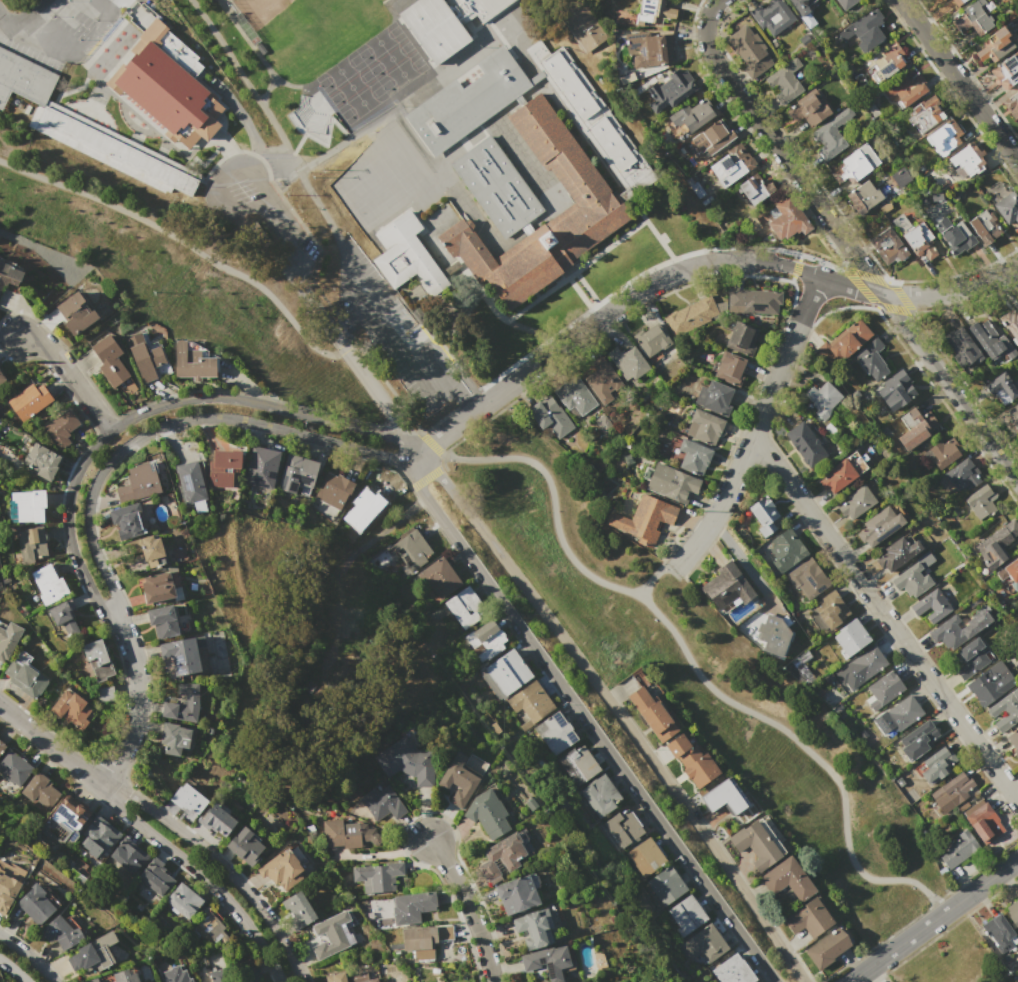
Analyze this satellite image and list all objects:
building: (846, 4)
building: (949, 4)
road: (713, 6)
building: (801, 6)
building: (654, 12)
road: (23, 13)
building: (772, 16)
building: (973, 18)
park: (325, 23)
building: (445, 24)
road: (93, 30)
building: (865, 31)
road: (28, 38)
park: (308, 38)
building: (995, 46)
building: (651, 49)
building: (748, 50)
building: (890, 63)
building: (1006, 71)
building: (23, 78)
road: (960, 81)
building: (785, 82)
building: (171, 89)
building: (672, 89)
building: (906, 89)
building: (1011, 105)
road: (117, 106)
building: (808, 109)
building: (925, 114)
building: (692, 116)
building: (830, 135)
building: (711, 137)
building: (944, 137)
building: (117, 150)
building: (968, 159)
building: (732, 165)
building: (855, 165)
building: (901, 176)
building: (512, 182)
building: (756, 189)
building: (863, 197)
road: (225, 203)
building: (1007, 207)
building: (788, 220)
building: (984, 226)
building: (958, 239)
building: (920, 241)
road: (184, 242)
building: (888, 246)
road: (851, 251)
road: (727, 259)
road: (349, 261)
building: (10, 272)
road: (307, 281)
building: (753, 300)
road: (360, 301)
building: (75, 313)
building: (692, 315)
building: (1011, 324)
road: (346, 325)
building: (742, 337)
building: (652, 340)
building: (843, 342)
road: (407, 343)
building: (992, 343)
building: (963, 348)
building: (147, 357)
building: (872, 359)
building: (110, 360)
building: (192, 363)
building: (628, 363)
building: (729, 367)
road: (359, 373)
road: (70, 375)
building: (1, 378)
building: (604, 382)
building: (1003, 386)
building: (895, 390)
building: (575, 397)
building: (714, 397)
building: (822, 399)
building: (30, 400)
road: (464, 402)
road: (150, 408)
building: (1014, 415)
building: (549, 416)
road: (756, 423)
road: (166, 424)
building: (704, 426)
building: (61, 428)
building: (916, 428)
road: (441, 434)
building: (803, 443)
building: (941, 453)
building: (694, 456)
building: (41, 461)
building: (223, 466)
building: (261, 467)
building: (297, 474)
building: (964, 475)
building: (837, 476)
road: (414, 477)
building: (139, 482)
building: (671, 483)
building: (191, 485)
building: (334, 490)
building: (981, 500)
building: (857, 502)
building: (26, 507)
building: (360, 512)
building: (765, 515)
building: (645, 519)
building: (128, 522)
road: (388, 524)
building: (880, 526)
building: (31, 544)
building: (998, 546)
building: (414, 550)
building: (786, 550)
building: (144, 551)
building: (897, 553)
road: (745, 564)
building: (1010, 572)
road: (658, 575)
building: (914, 577)
building: (439, 578)
building: (807, 579)
building: (49, 584)
building: (727, 586)
building: (158, 587)
building: (931, 605)
building: (465, 607)
building: (830, 609)
building: (68, 613)
road: (885, 617)
building: (164, 622)
building: (944, 630)
building: (774, 634)
building: (851, 637)
building: (8, 640)
building: (486, 640)
road: (687, 653)
building: (181, 656)
building: (971, 657)
building: (98, 659)
building: (861, 667)
building: (800, 668)
building: (508, 672)
building: (25, 676)
park: (310, 678)
building: (990, 683)
building: (883, 689)
building: (532, 704)
building: (183, 705)
building: (72, 708)
road: (616, 710)
building: (1005, 710)
road: (135, 712)
building: (904, 712)
building: (654, 715)
building: (555, 733)
building: (173, 738)
road: (599, 739)
building: (918, 740)
building: (1013, 741)
building: (1, 746)
road: (50, 747)
building: (683, 749)
building: (407, 761)
building: (585, 762)
building: (936, 765)
building: (14, 767)
building: (700, 770)
building: (462, 777)
building: (33, 788)
building: (952, 792)
building: (600, 796)
building: (724, 797)
building: (188, 798)
building: (383, 803)
building: (531, 804)
building: (488, 813)
building: (217, 820)
building: (983, 821)
building: (62, 824)
building: (624, 827)
building: (101, 833)
building: (348, 834)
building: (757, 844)
building: (245, 846)
building: (958, 849)
building: (130, 854)
building: (502, 856)
building: (647, 856)
road: (221, 864)
building: (282, 870)
building: (156, 876)
road: (200, 876)
building: (378, 877)
building: (788, 879)
building: (666, 886)
building: (7, 892)
building: (517, 894)
building: (184, 901)
building: (37, 903)
building: (412, 907)
road: (469, 907)
building: (298, 910)
building: (1013, 912)
building: (687, 915)
road: (942, 915)
building: (810, 918)
road: (933, 920)
building: (214, 927)
building: (534, 929)
building: (62, 932)
building: (999, 933)
building: (332, 935)
building: (424, 941)
building: (705, 944)
building: (827, 948)
building: (93, 954)
road: (29, 956)
road: (964, 957)
building: (548, 961)
park: (953, 961)
road: (13, 970)
building: (733, 971)
building: (175, 975)
building: (218, 975)
building: (124, 976)
building: (361, 977)
building: (335, 978)
building: (92, 980)
building: (252, 980)

